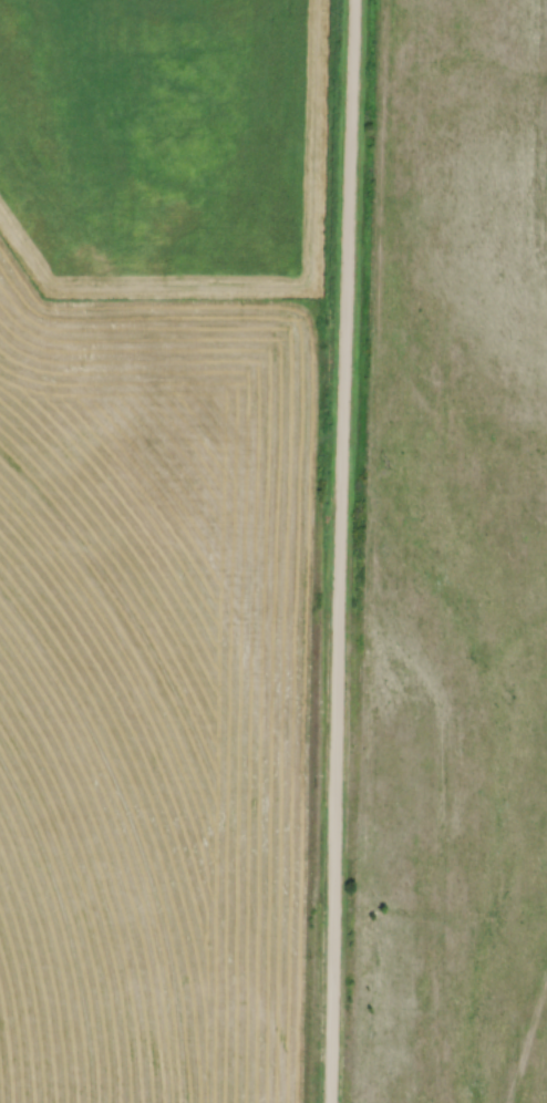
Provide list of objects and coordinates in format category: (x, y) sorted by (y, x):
road: (345, 551)

